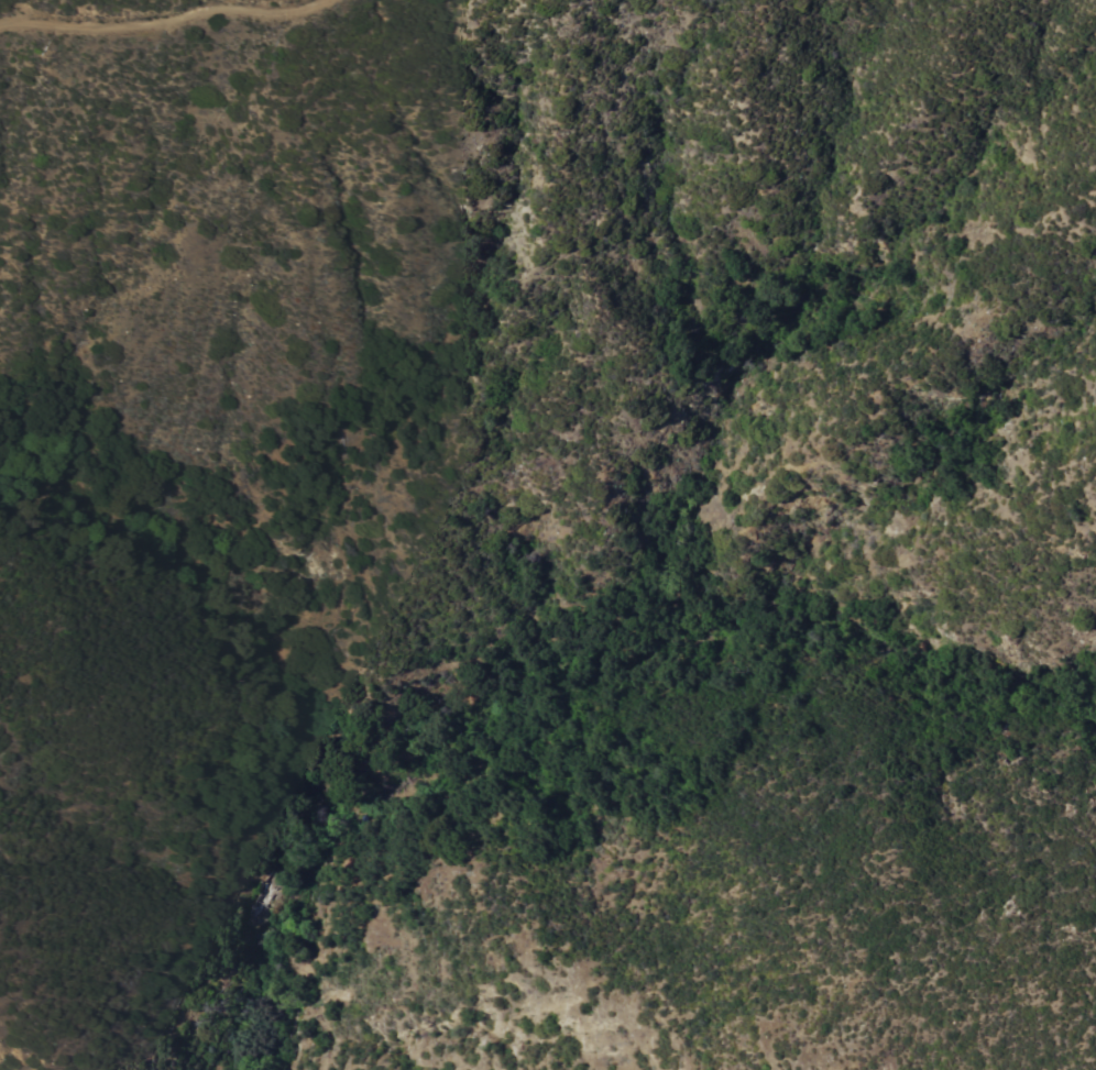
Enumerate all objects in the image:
road: (161, 20)
road: (251, 956)

